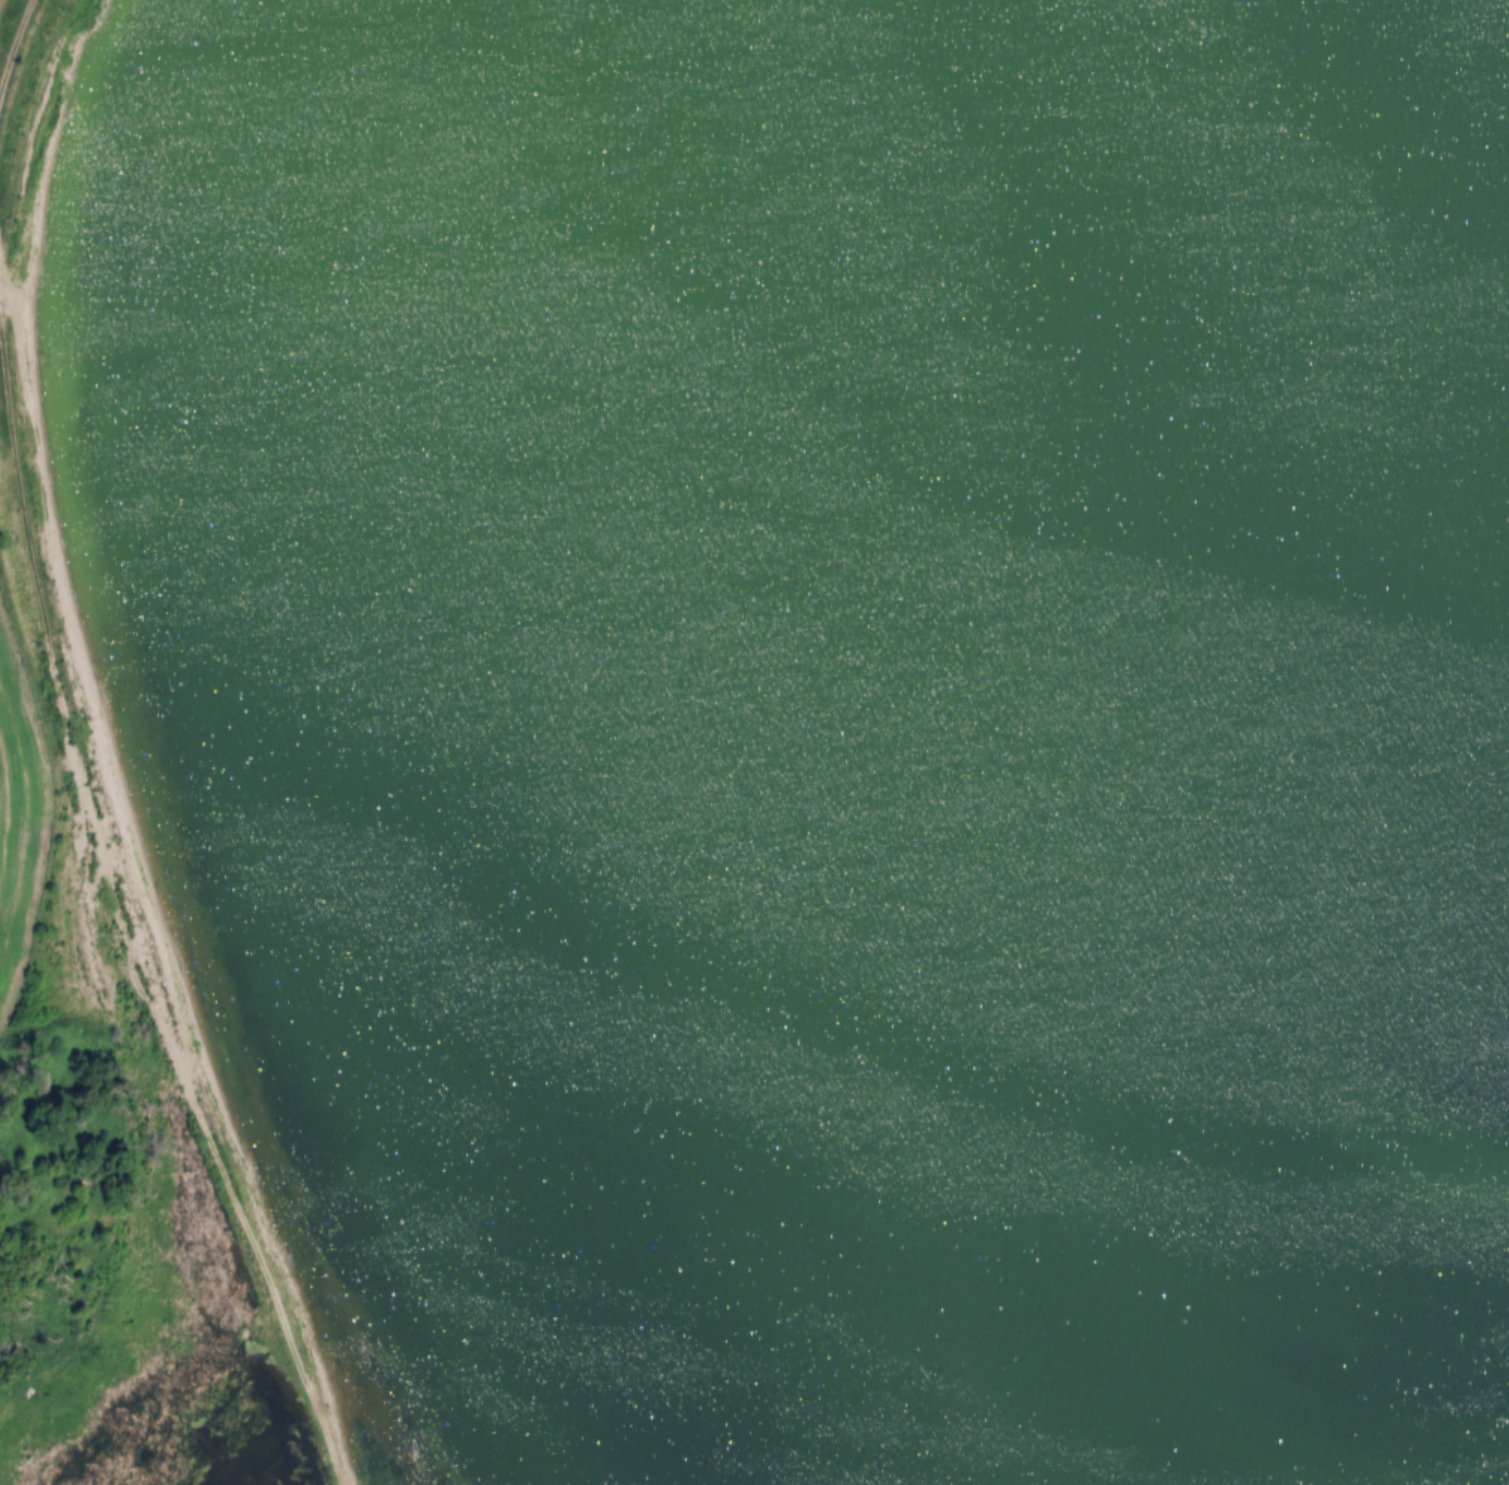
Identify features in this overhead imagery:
road: (9, 276)
road: (104, 752)

